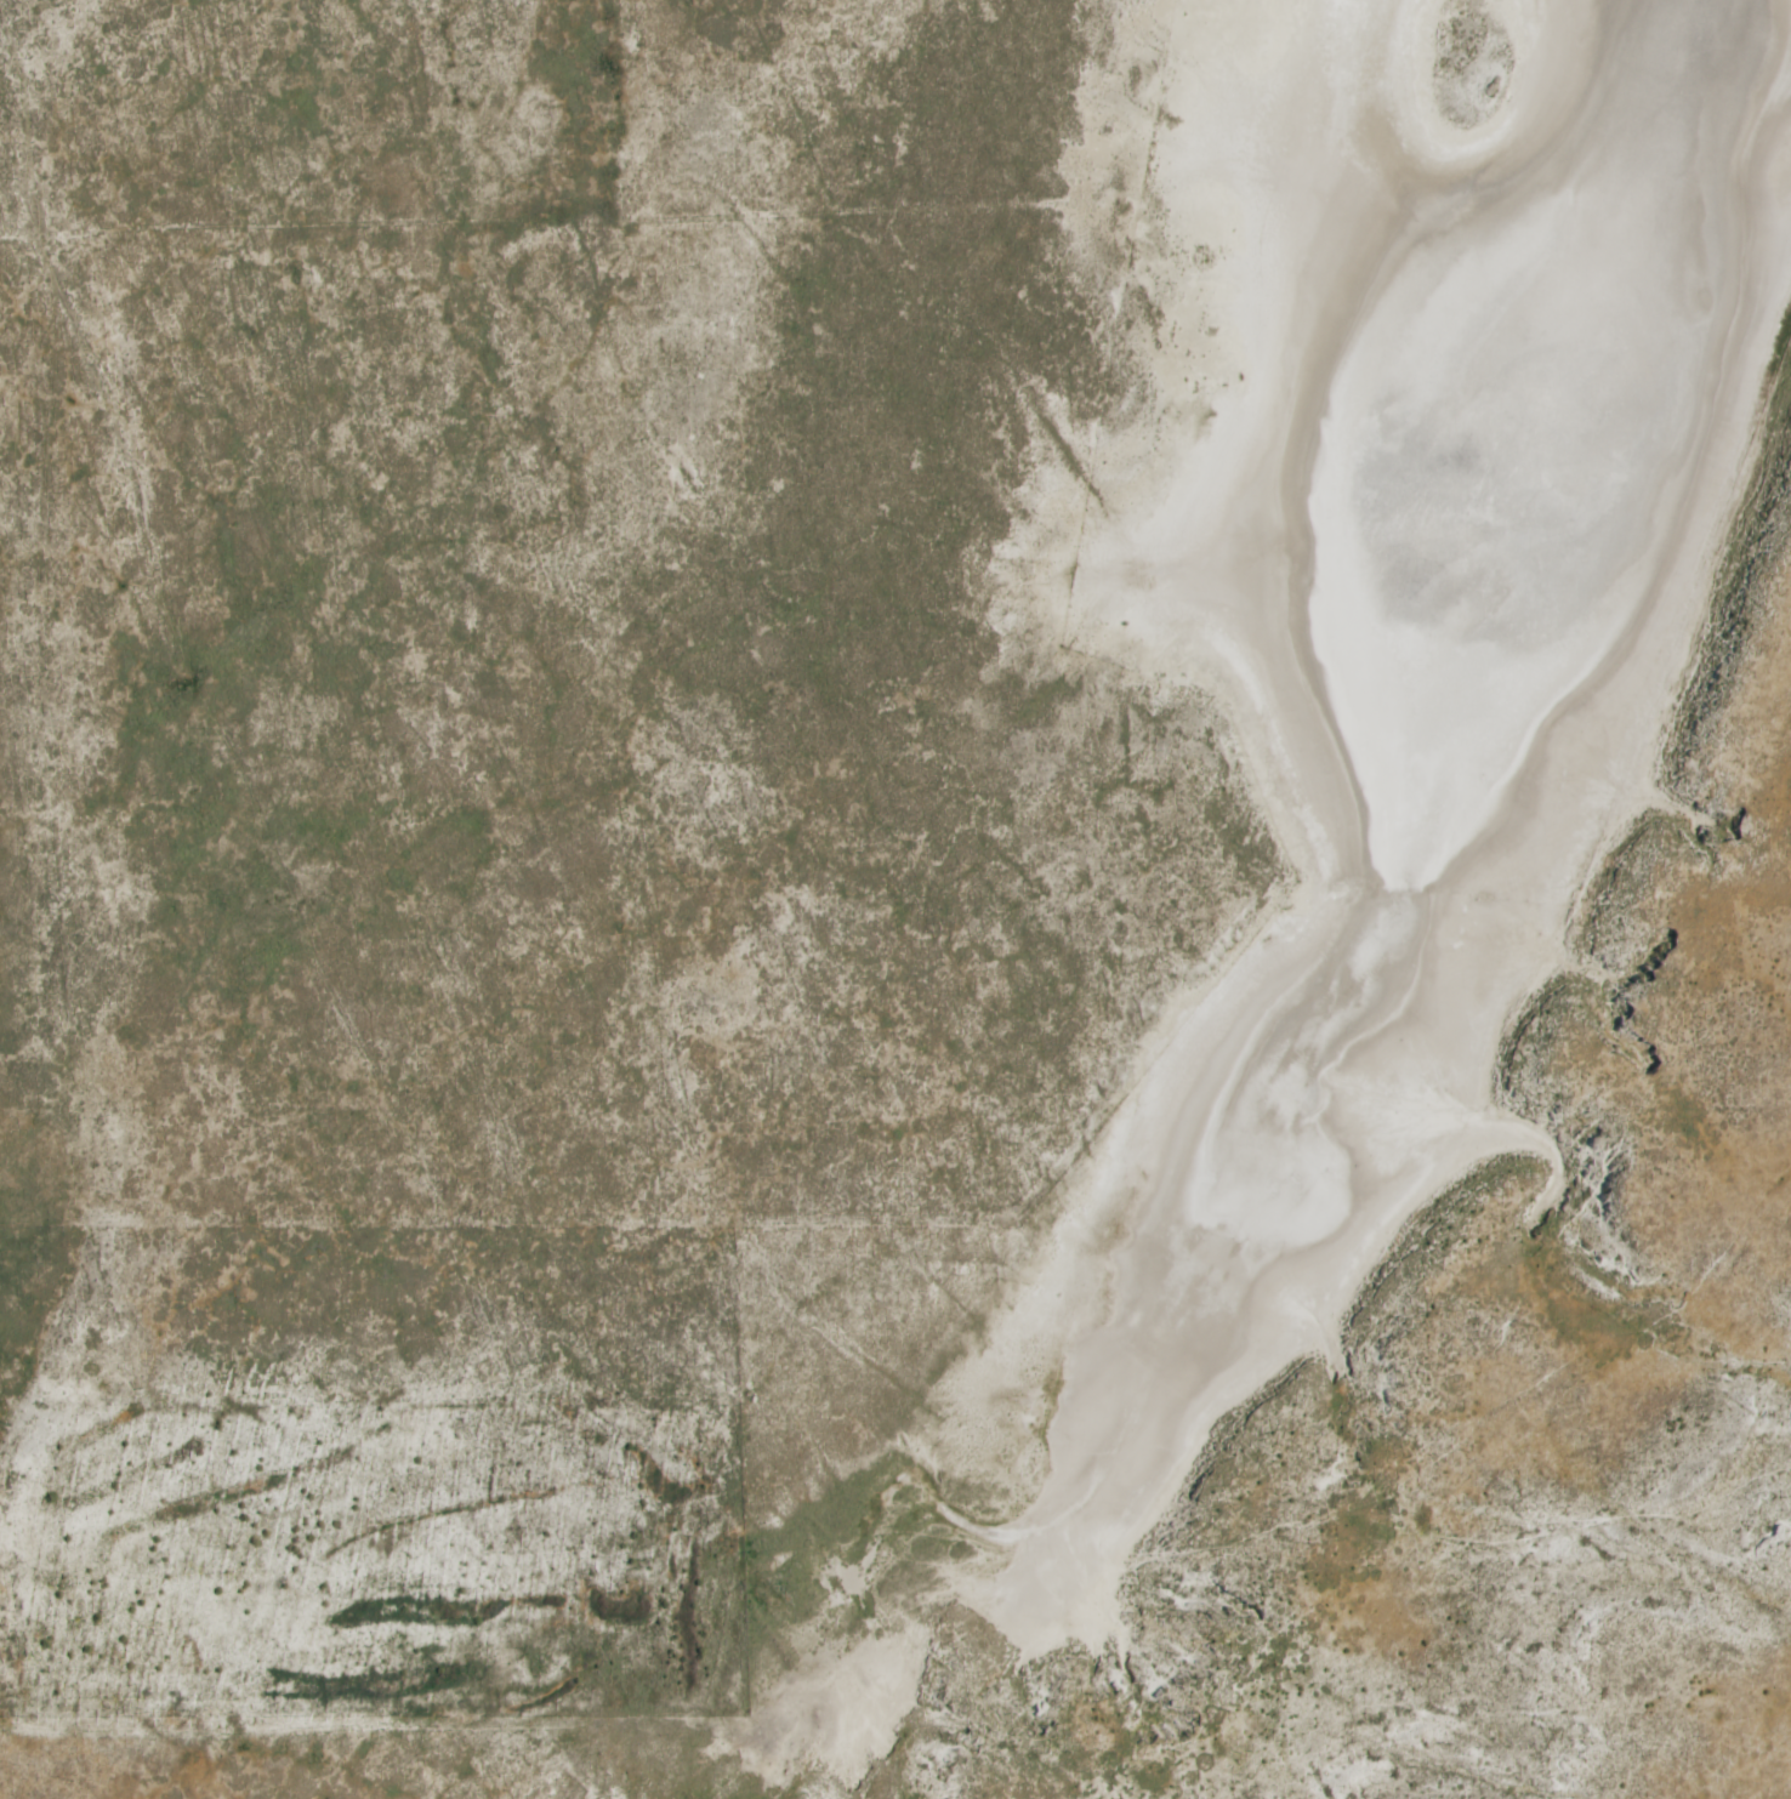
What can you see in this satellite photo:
road: (726, 1478)
road: (206, 1587)
road: (440, 1624)
road: (53, 1634)

